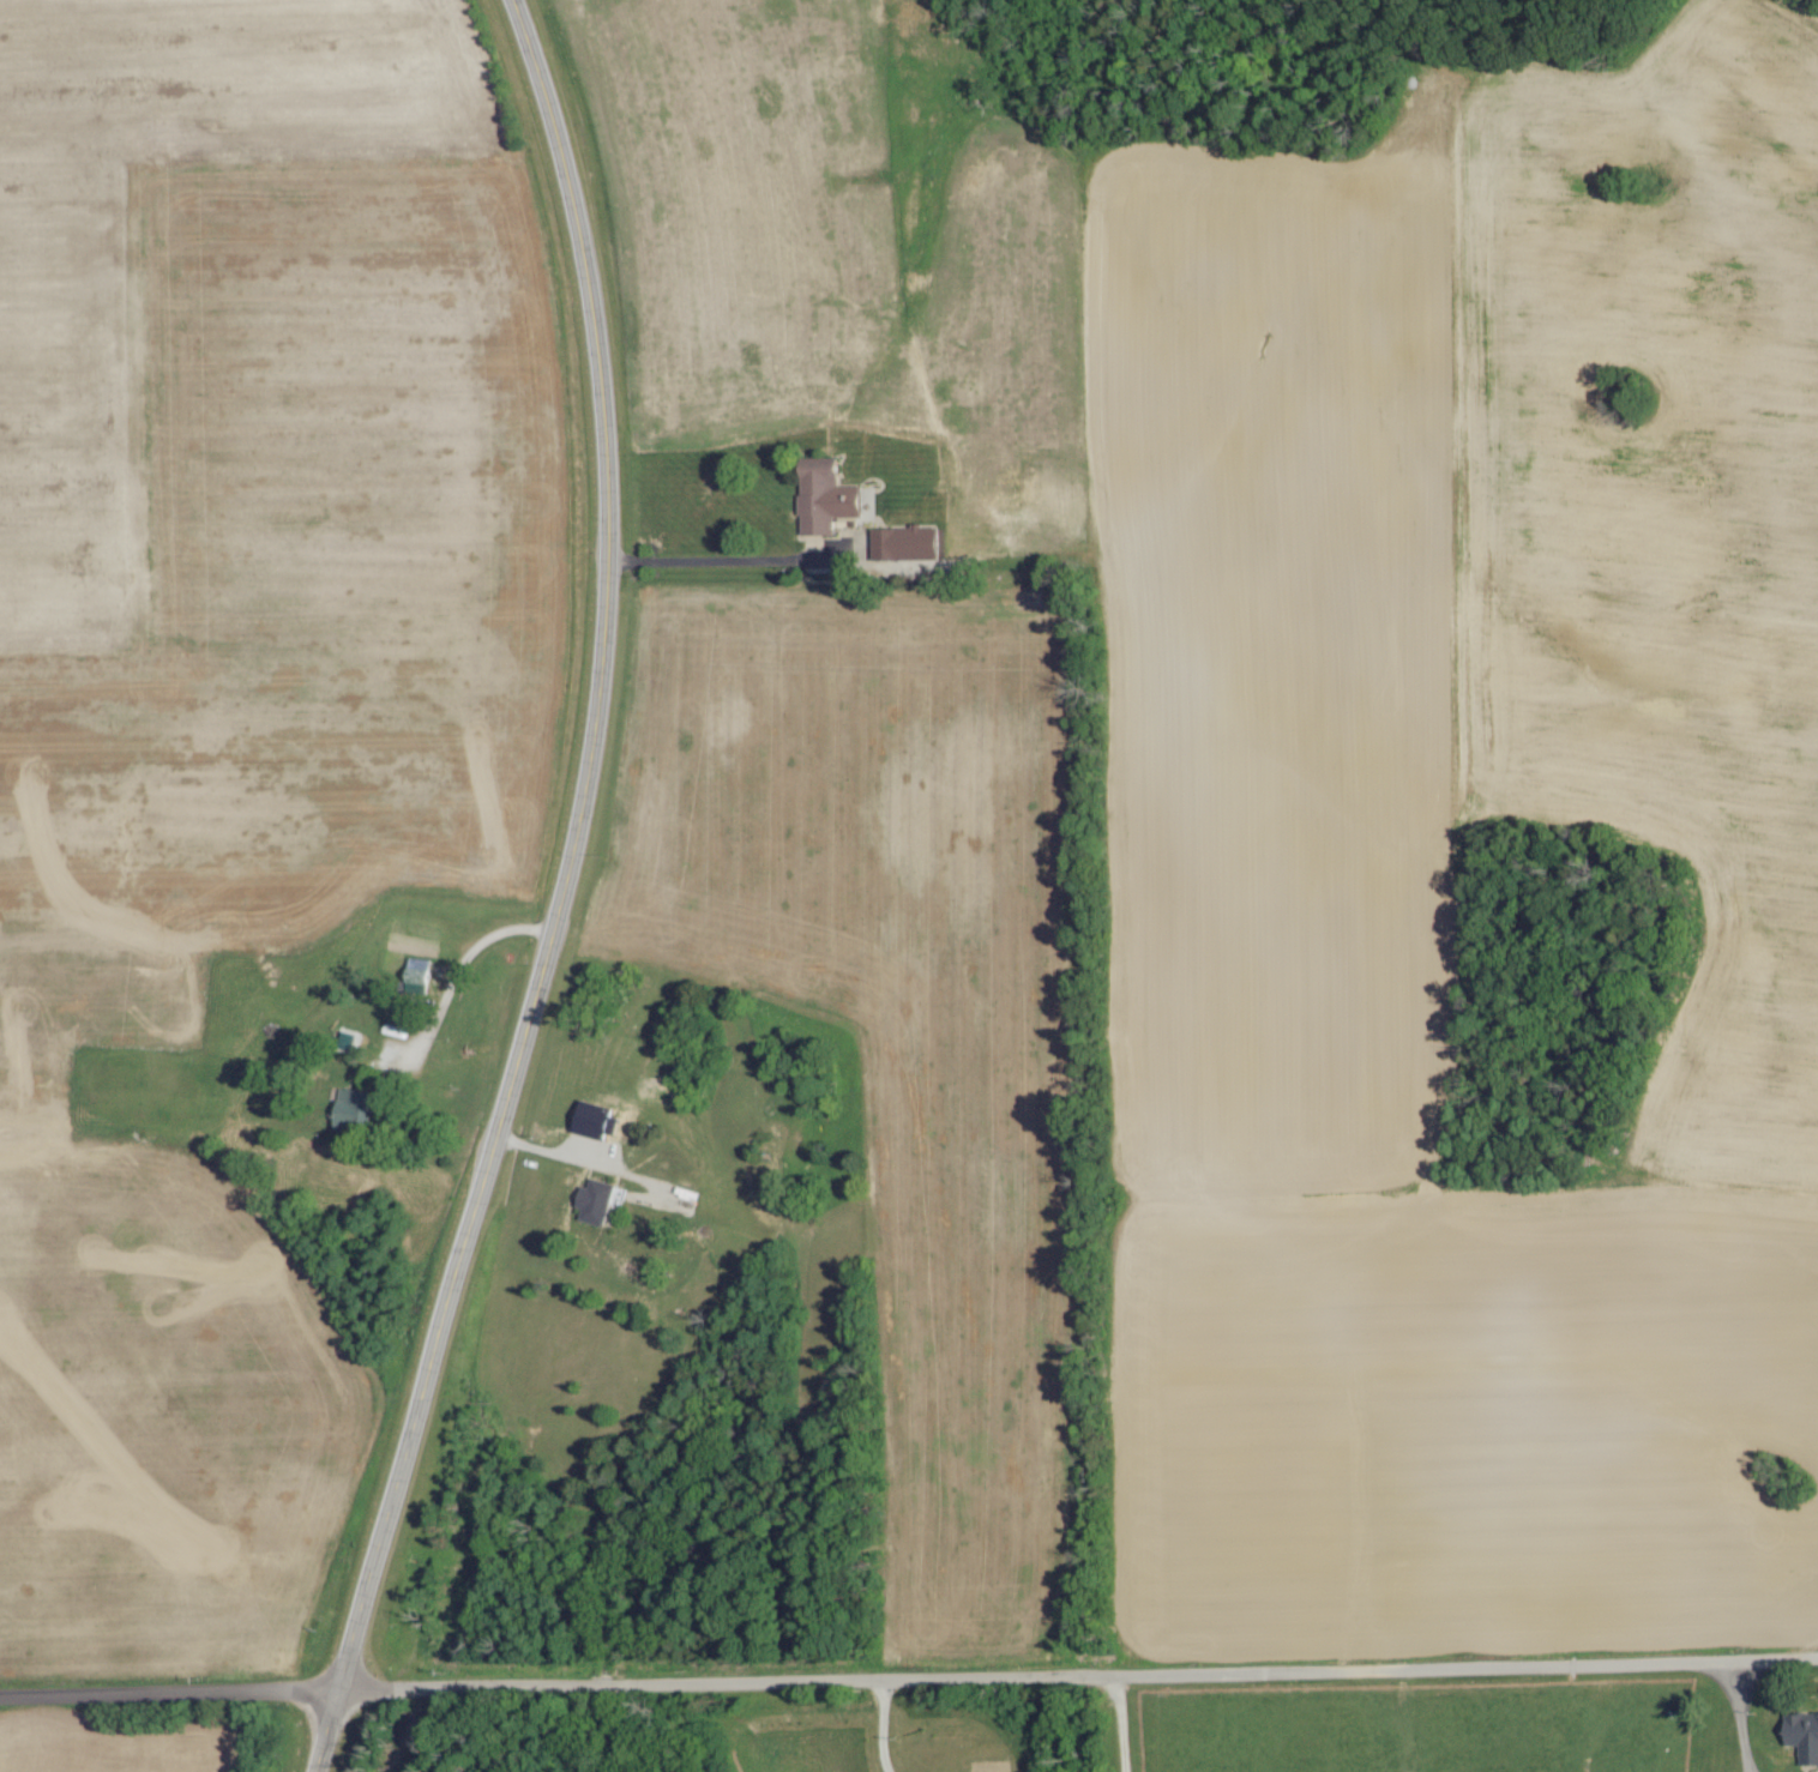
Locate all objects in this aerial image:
building: (821, 500)
building: (903, 544)
road: (727, 560)
road: (558, 894)
road: (456, 965)
building: (351, 1110)
building: (592, 1121)
road: (586, 1164)
building: (597, 1200)
road: (909, 1677)
road: (1735, 1714)

